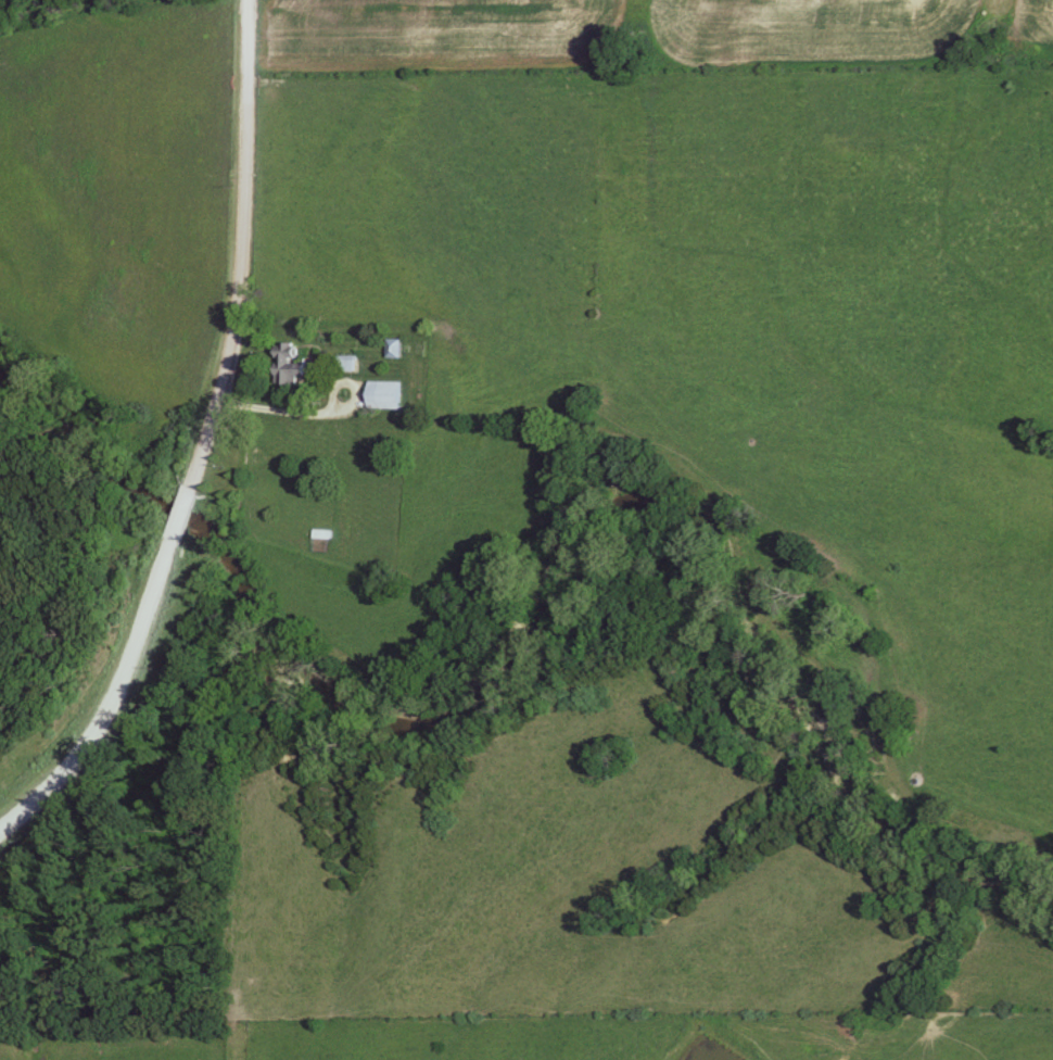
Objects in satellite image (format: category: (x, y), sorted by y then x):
road: (241, 248)
building: (341, 364)
building: (284, 365)
building: (381, 395)
road: (316, 418)
road: (180, 509)
building: (318, 534)
road: (109, 690)

